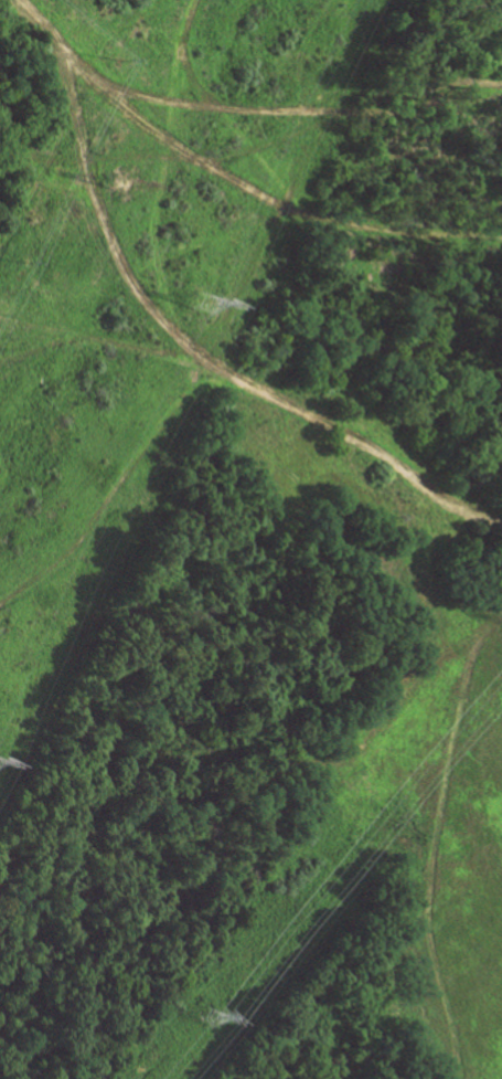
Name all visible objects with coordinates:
power tower: (120, 186)
power tower: (203, 308)
power tower: (213, 1017)

